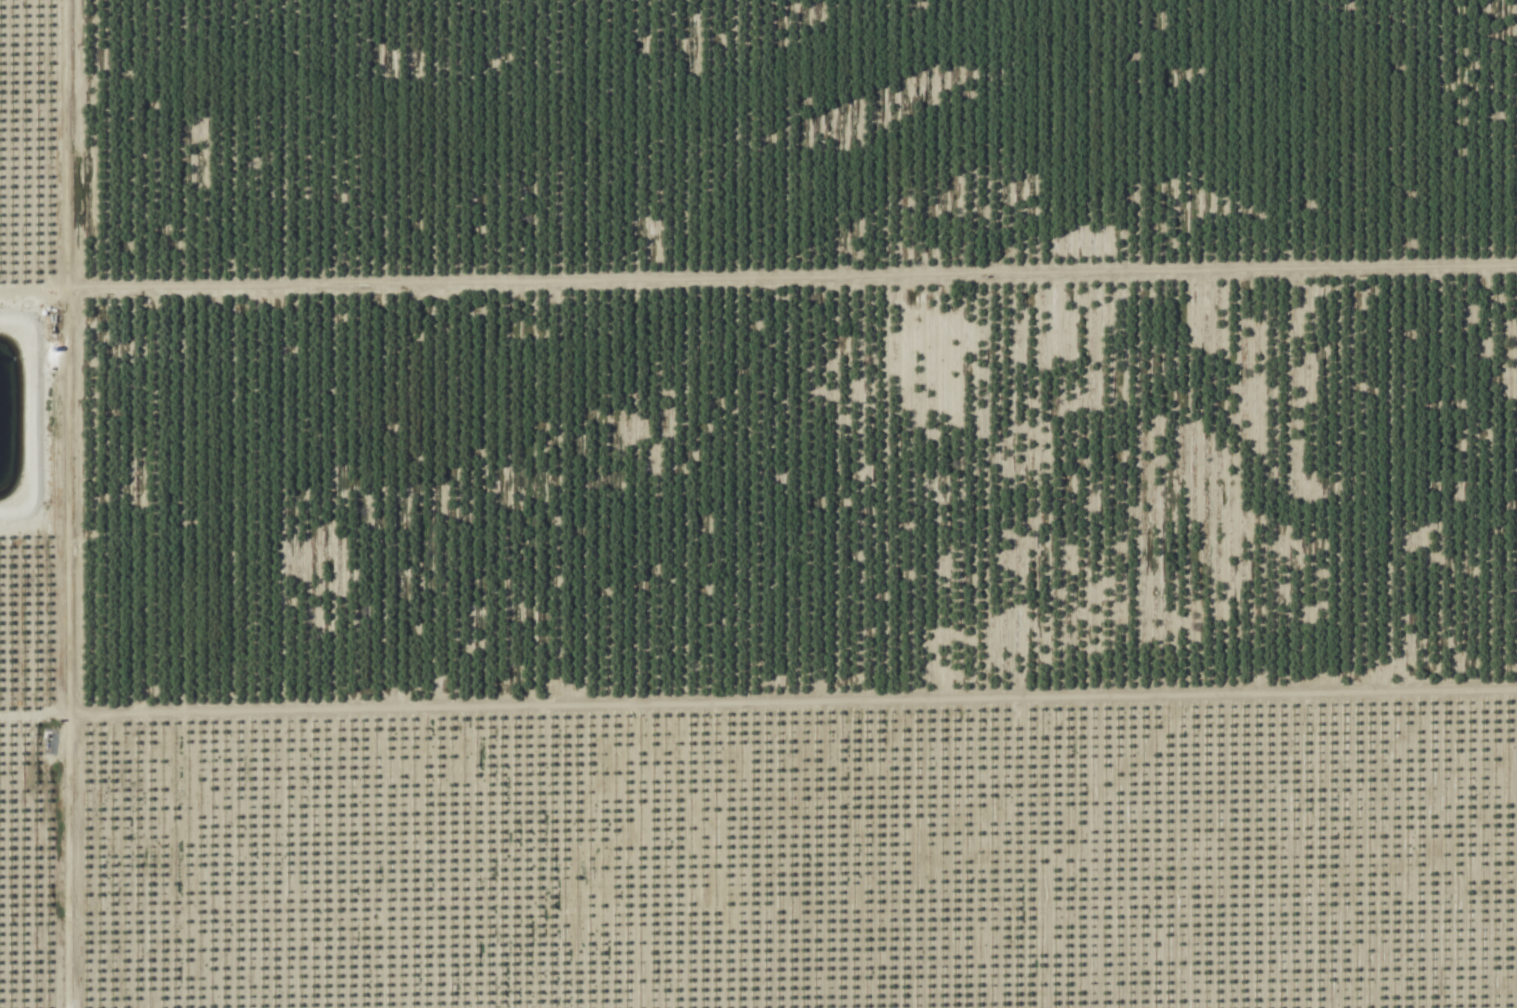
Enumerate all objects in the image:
road: (758, 692)

